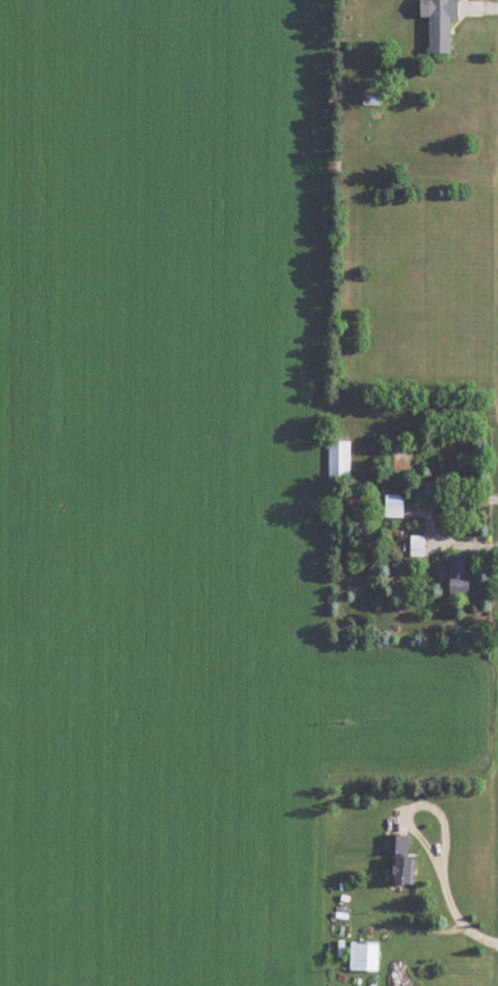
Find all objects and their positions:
building: (439, 22)
building: (340, 460)
building: (393, 506)
building: (418, 547)
building: (457, 574)
road: (418, 804)
building: (397, 844)
building: (404, 871)
road: (455, 910)
building: (364, 957)

